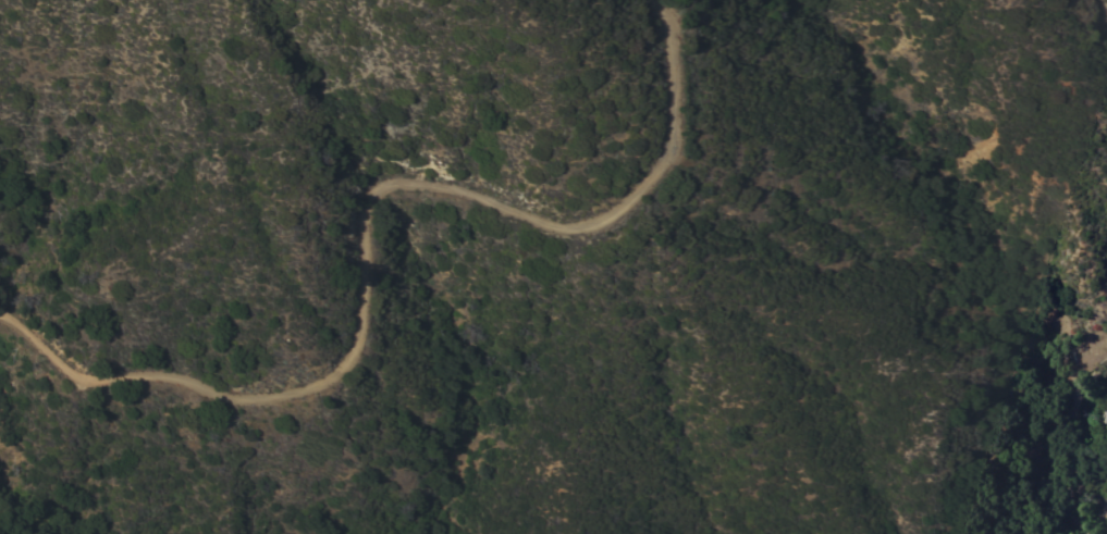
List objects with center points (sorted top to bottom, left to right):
road: (367, 224)
road: (1061, 433)

